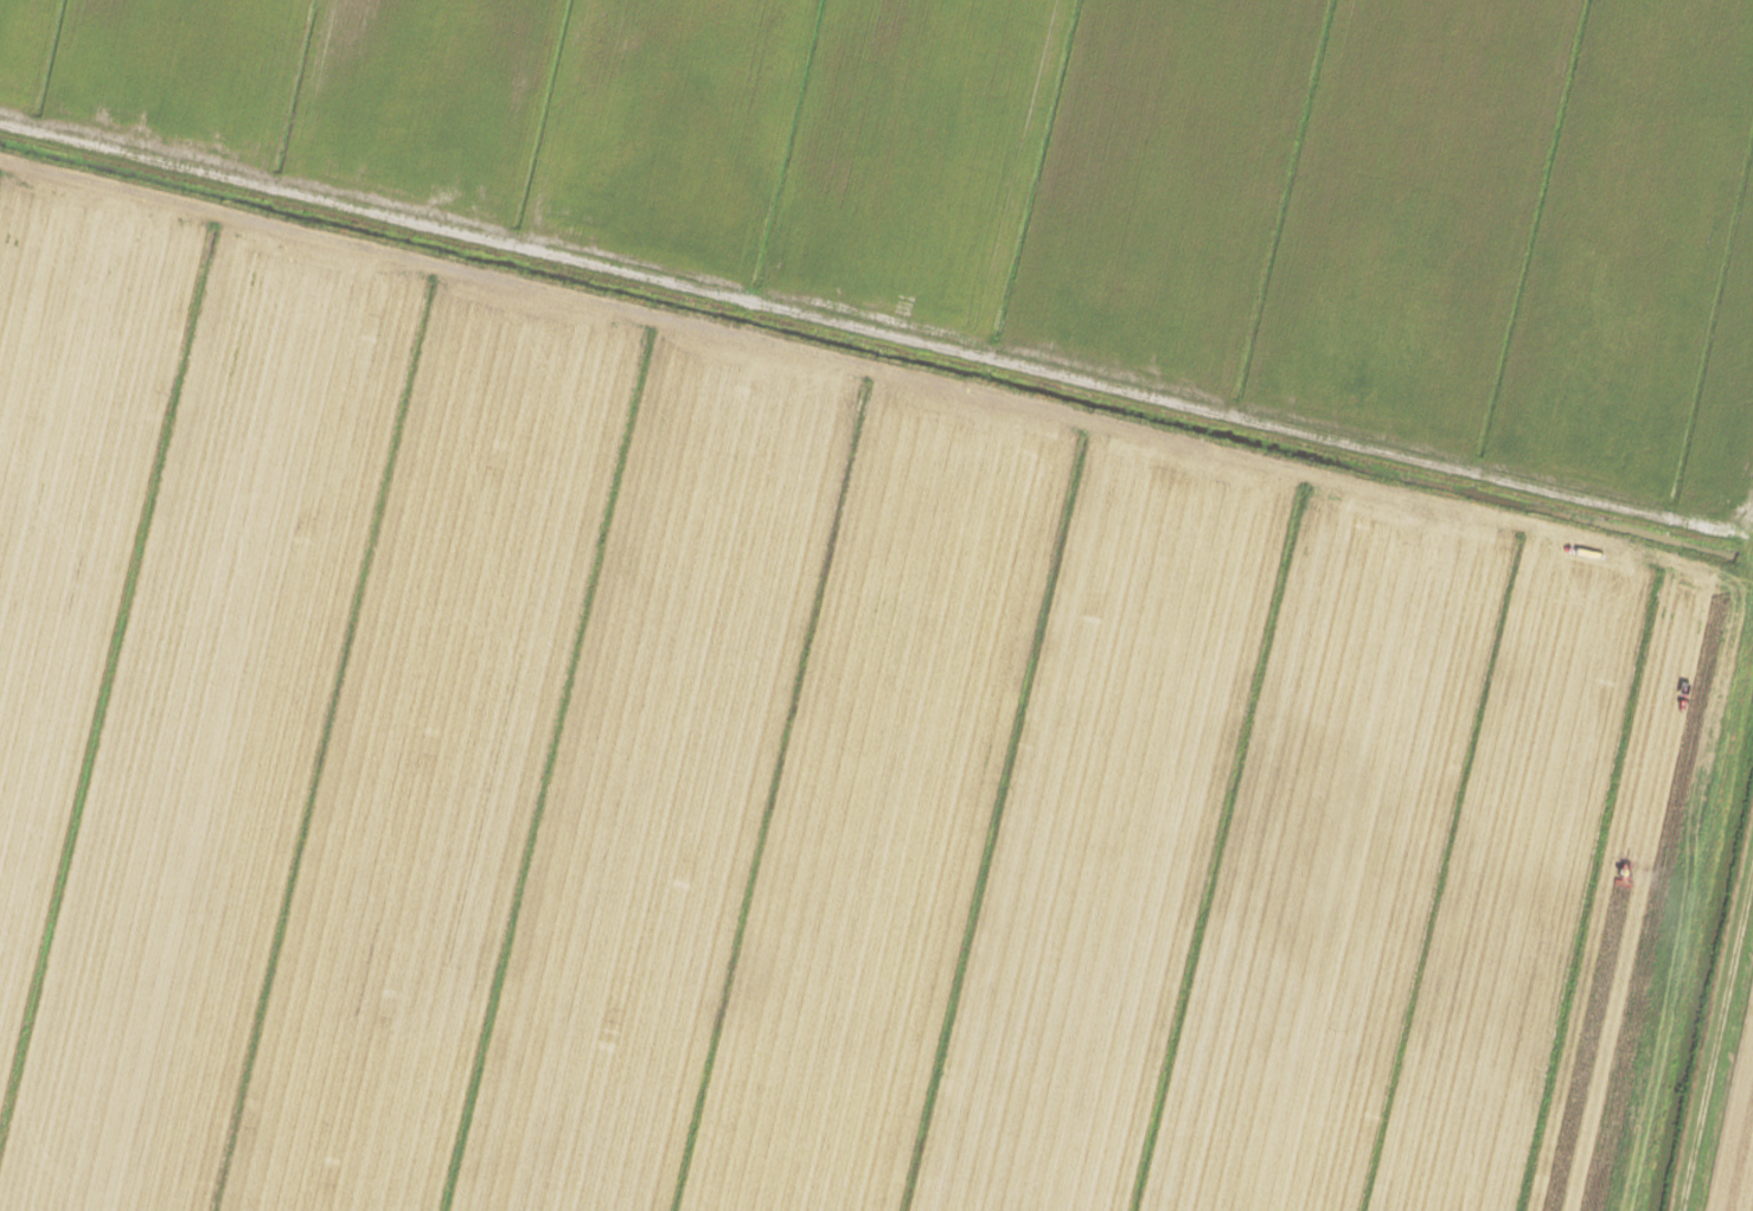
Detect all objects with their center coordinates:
road: (876, 326)
road: (1720, 1052)

